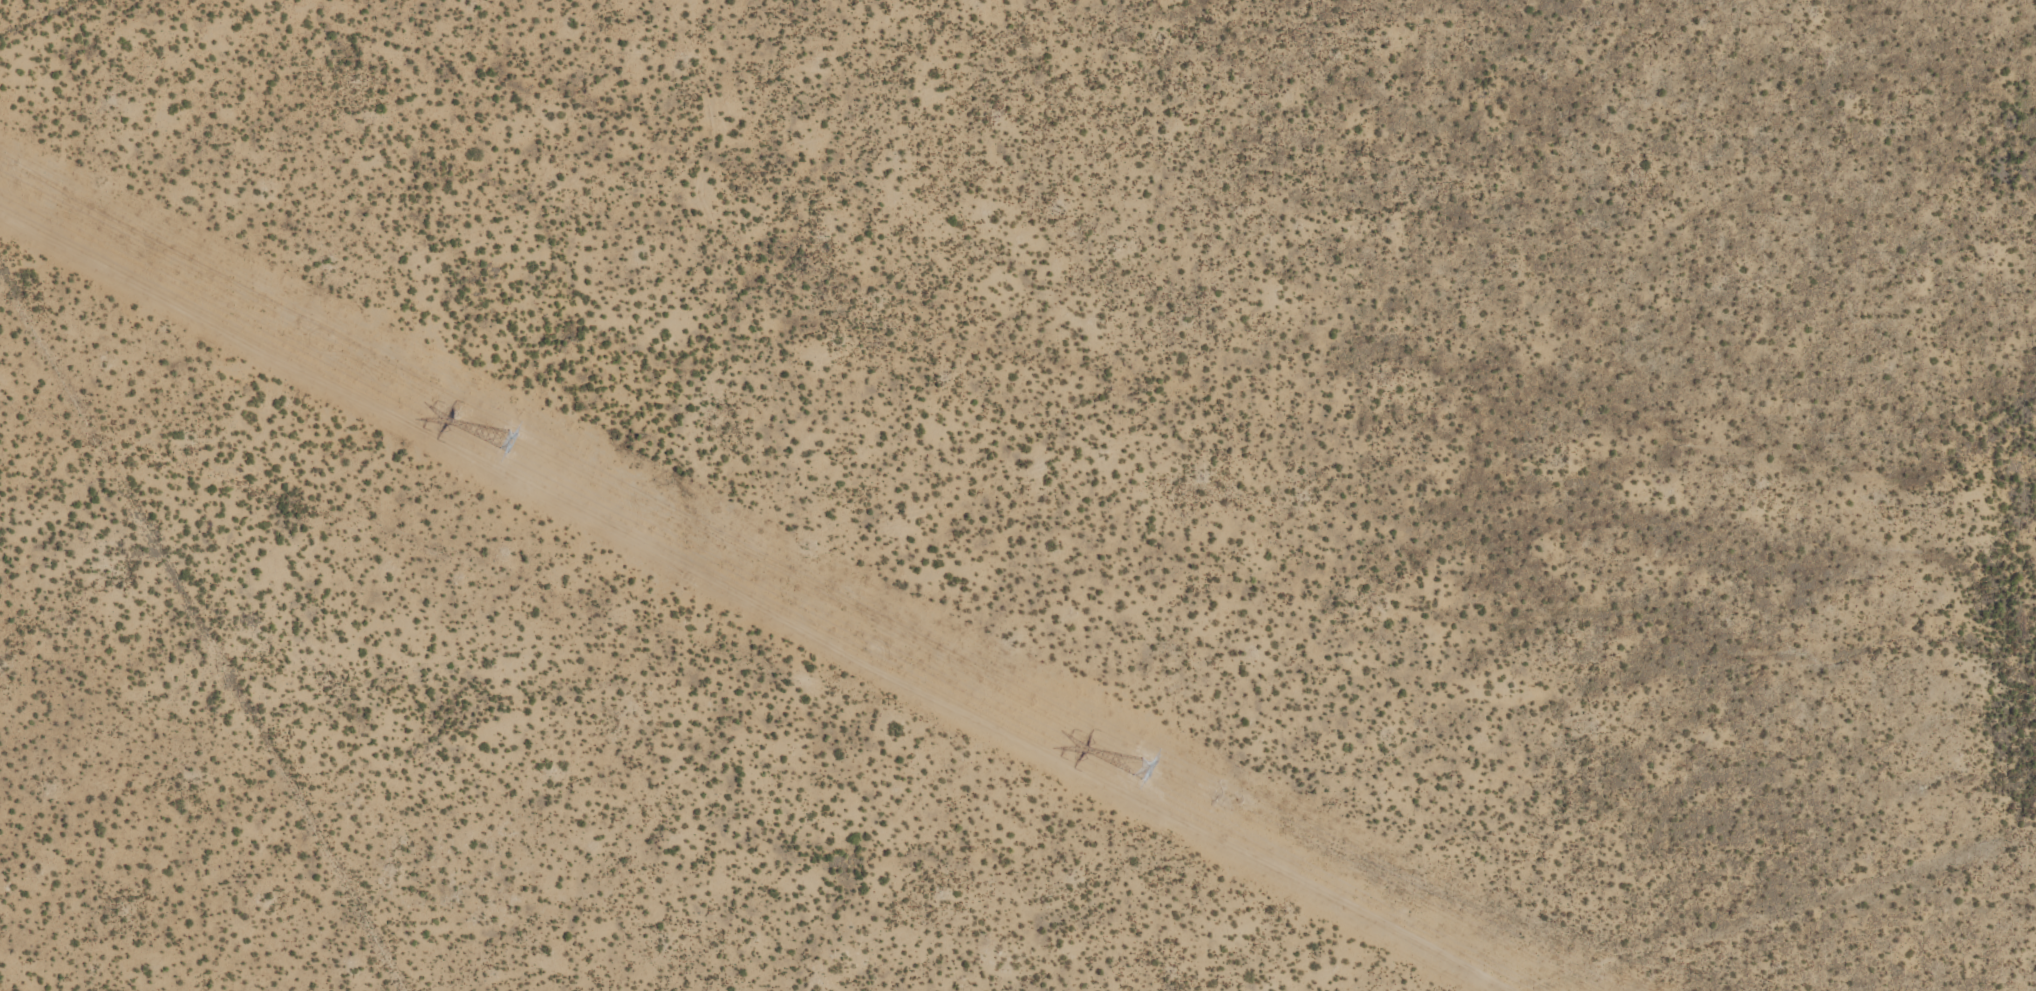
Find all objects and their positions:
road: (63, 23)
power tower: (506, 441)
power tower: (1141, 771)
road: (1825, 921)

